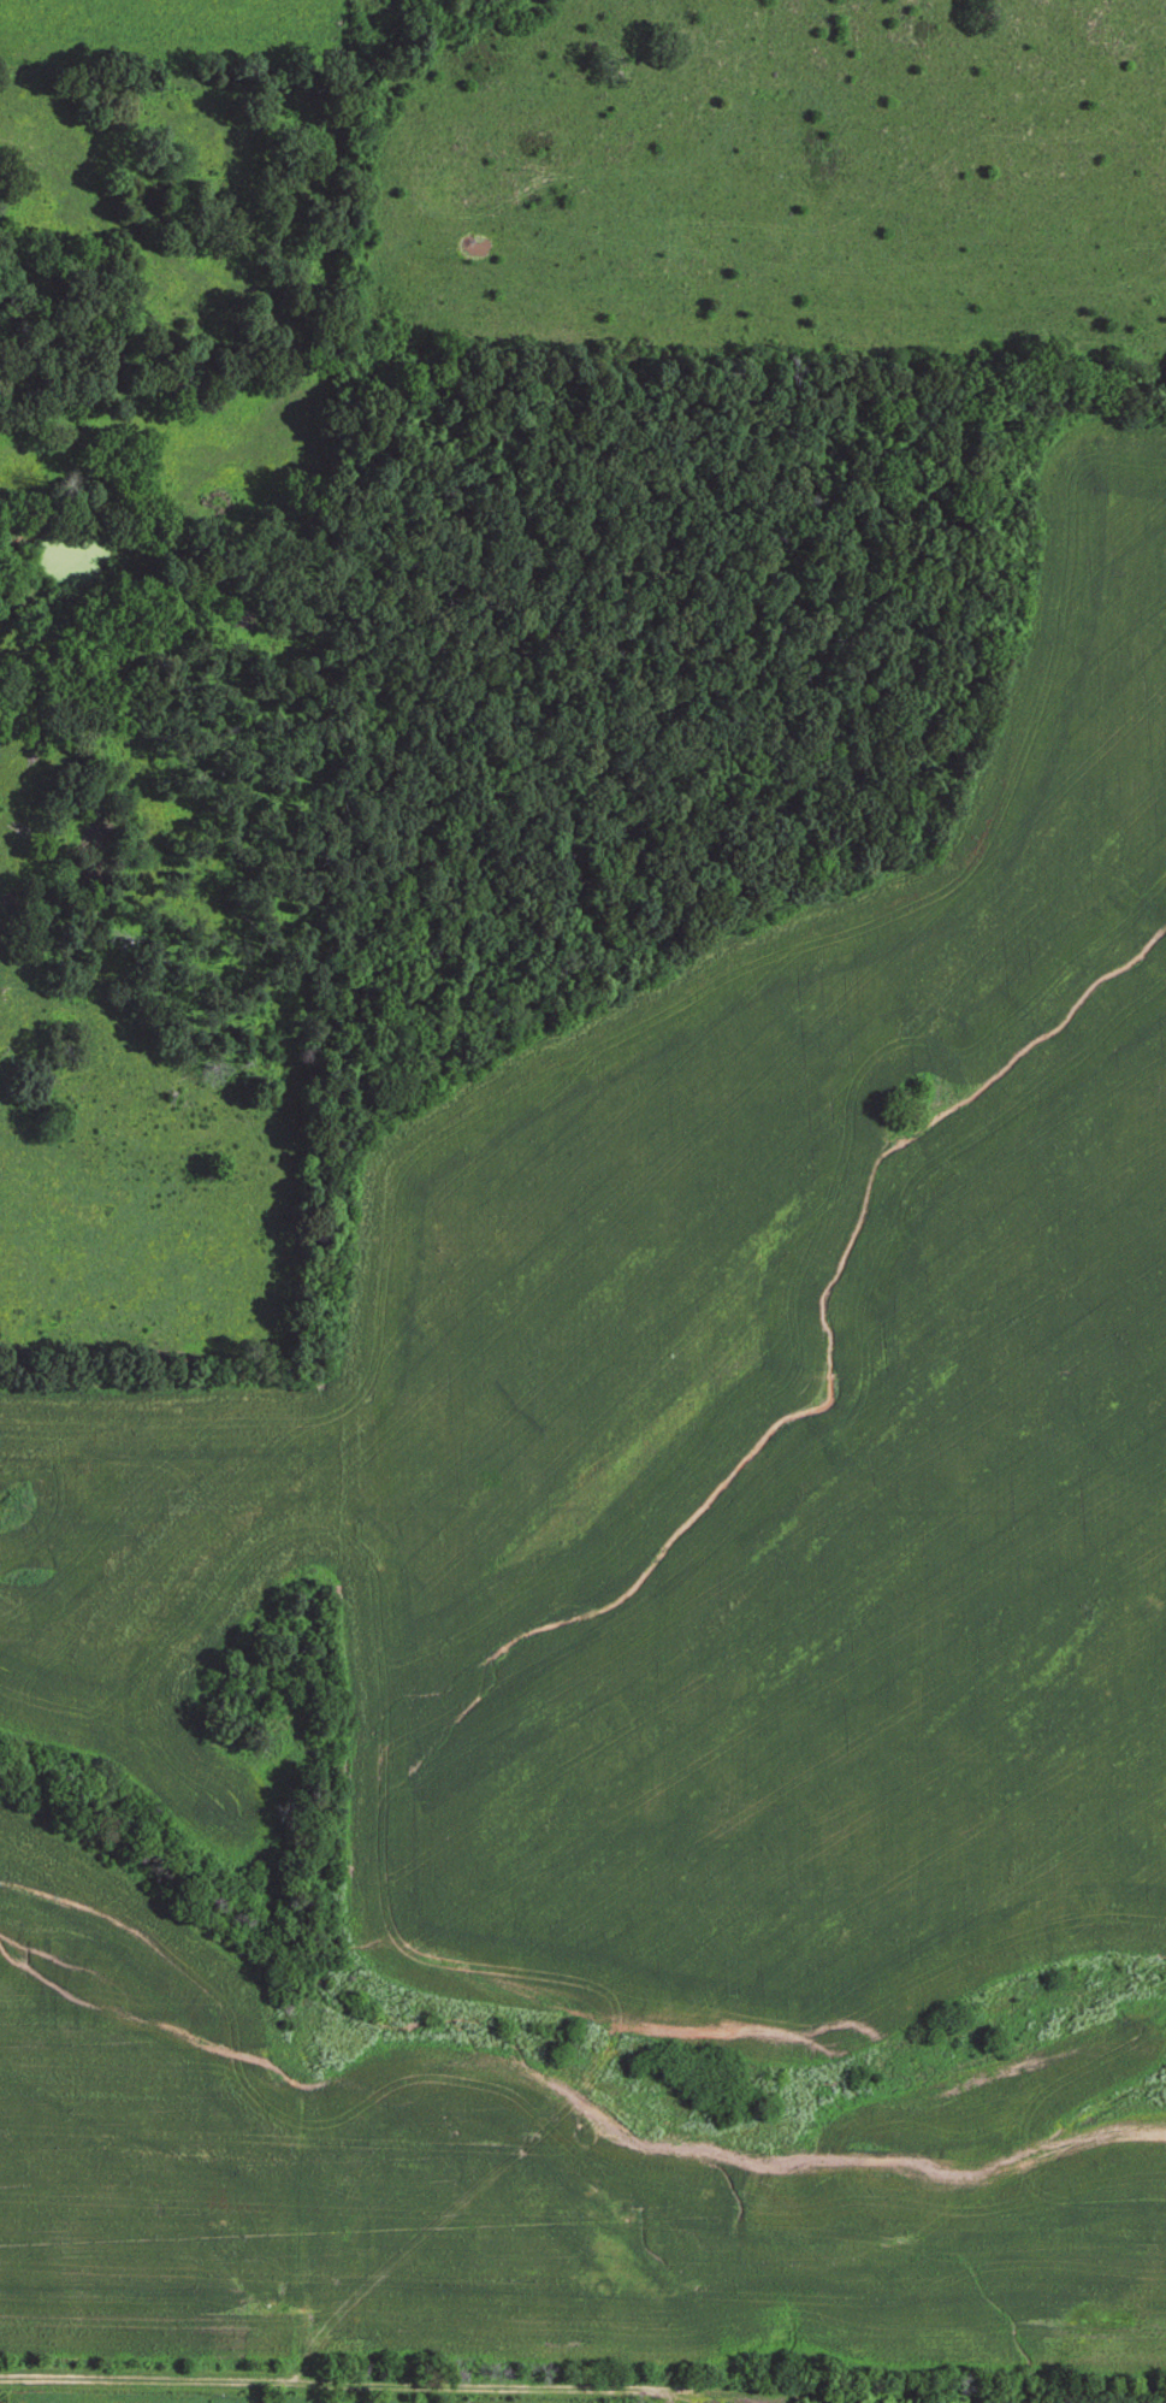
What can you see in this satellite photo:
road: (582, 2386)

